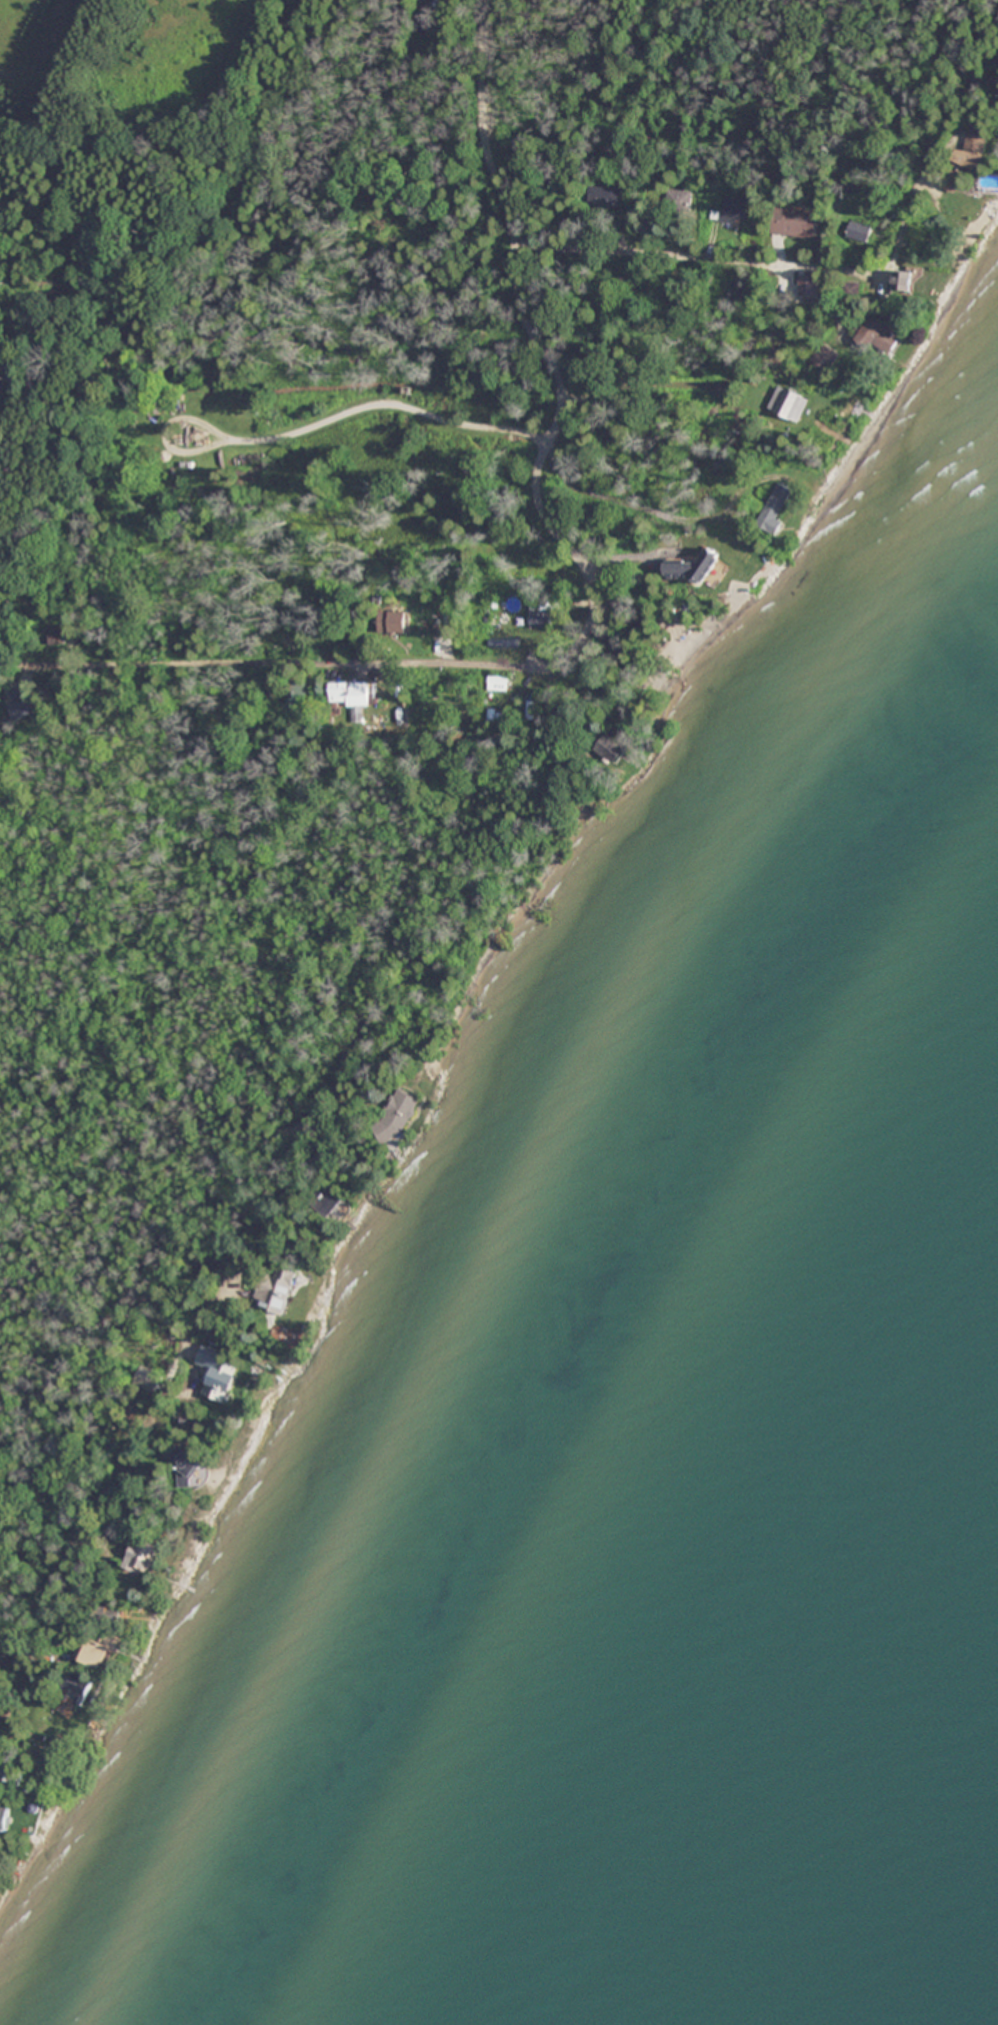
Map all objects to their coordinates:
road: (482, 126)
building: (606, 195)
building: (679, 200)
building: (734, 210)
road: (747, 261)
building: (880, 337)
building: (5, 368)
building: (865, 406)
building: (797, 407)
road: (313, 420)
road: (662, 513)
building: (718, 561)
road: (555, 658)
building: (498, 683)
building: (343, 696)
building: (296, 699)
building: (21, 712)
building: (613, 747)
building: (399, 1116)
building: (329, 1203)
building: (275, 1289)
road: (79, 1319)
building: (220, 1378)
building: (191, 1470)
road: (84, 1525)
building: (143, 1554)
building: (112, 1617)
building: (100, 1652)
building: (78, 1688)
building: (42, 1710)
building: (12, 1772)
building: (7, 1817)

